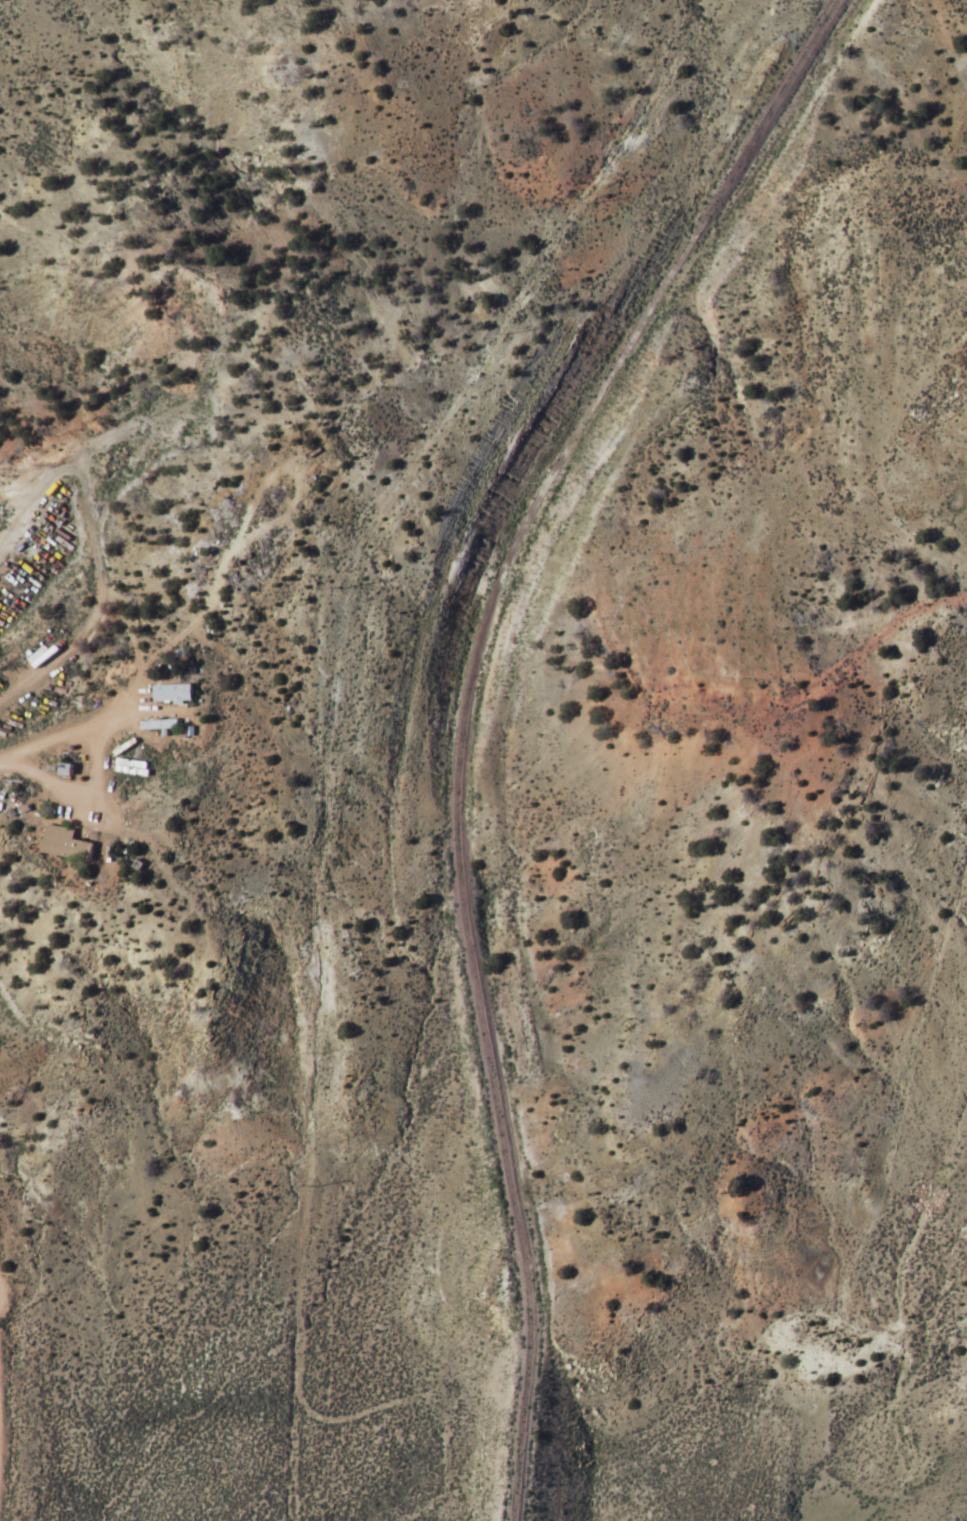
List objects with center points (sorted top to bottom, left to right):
railway: (494, 606)
building: (47, 655)
building: (175, 693)
building: (135, 766)
building: (68, 843)
railway: (533, 1407)

